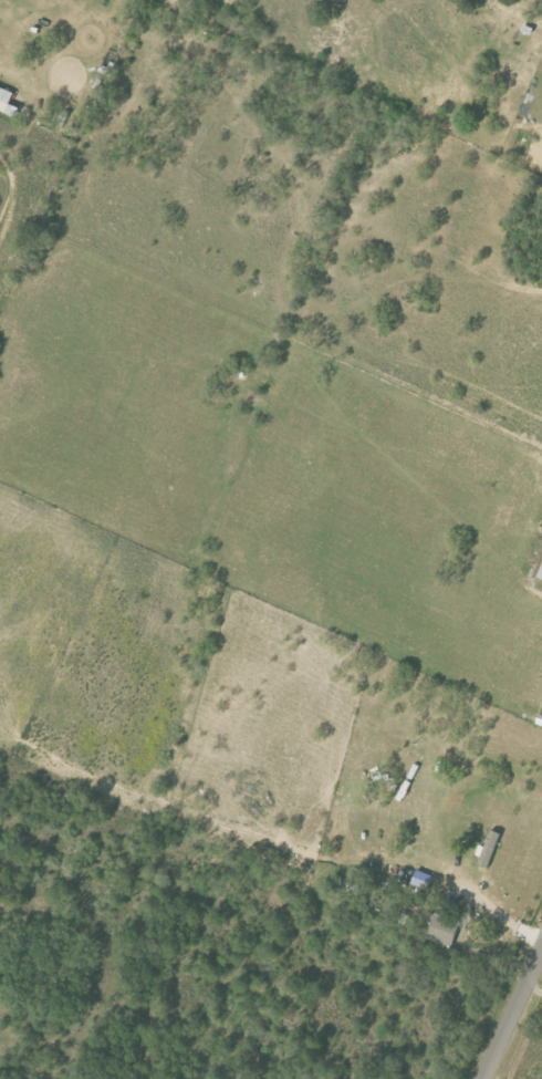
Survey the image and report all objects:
road: (1, 56)
building: (8, 101)
building: (541, 574)
road: (497, 912)
building: (444, 930)
road: (533, 989)
road: (512, 1014)

